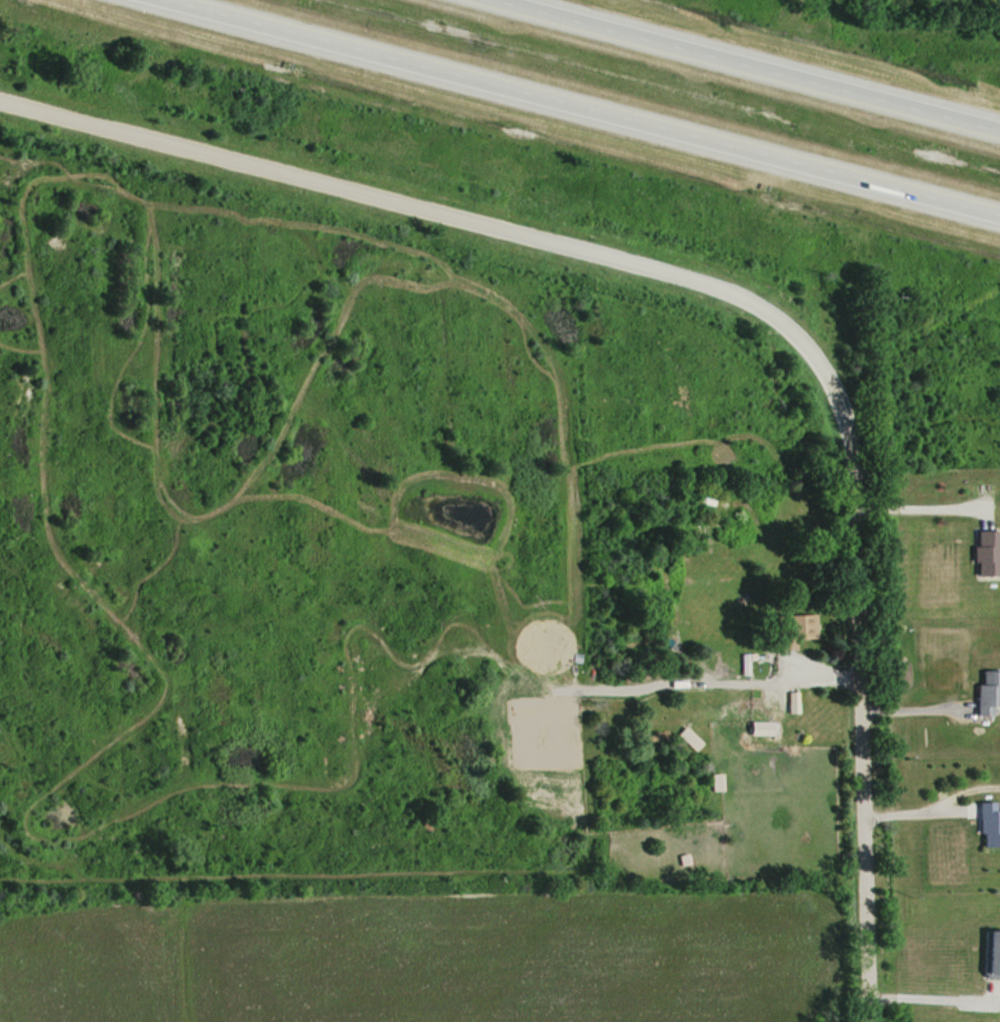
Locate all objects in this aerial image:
road: (758, 64)
road: (588, 105)
road: (426, 210)
road: (913, 510)
building: (981, 552)
building: (791, 629)
building: (725, 688)
building: (984, 691)
road: (854, 696)
road: (907, 711)
building: (757, 728)
road: (913, 804)
building: (986, 824)
building: (988, 953)
road: (929, 991)

